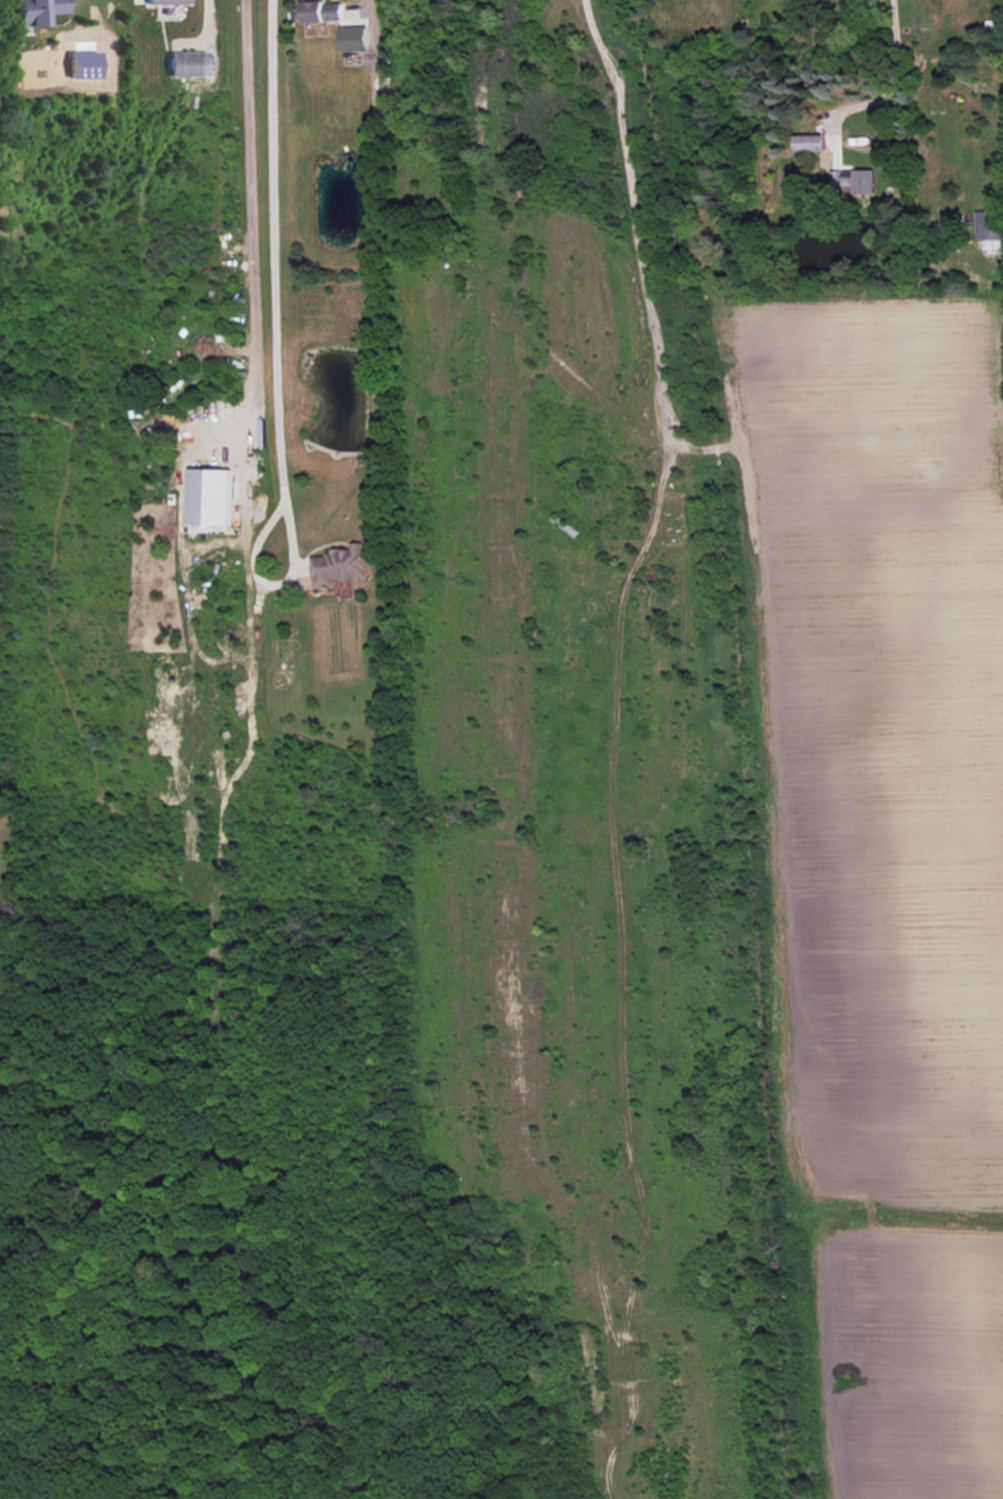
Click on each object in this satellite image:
road: (365, 0)
building: (168, 2)
building: (36, 11)
building: (323, 11)
road: (207, 24)
building: (355, 38)
building: (188, 64)
road: (889, 87)
building: (810, 143)
building: (855, 180)
road: (248, 223)
building: (990, 228)
road: (270, 277)
building: (210, 497)
building: (340, 566)

